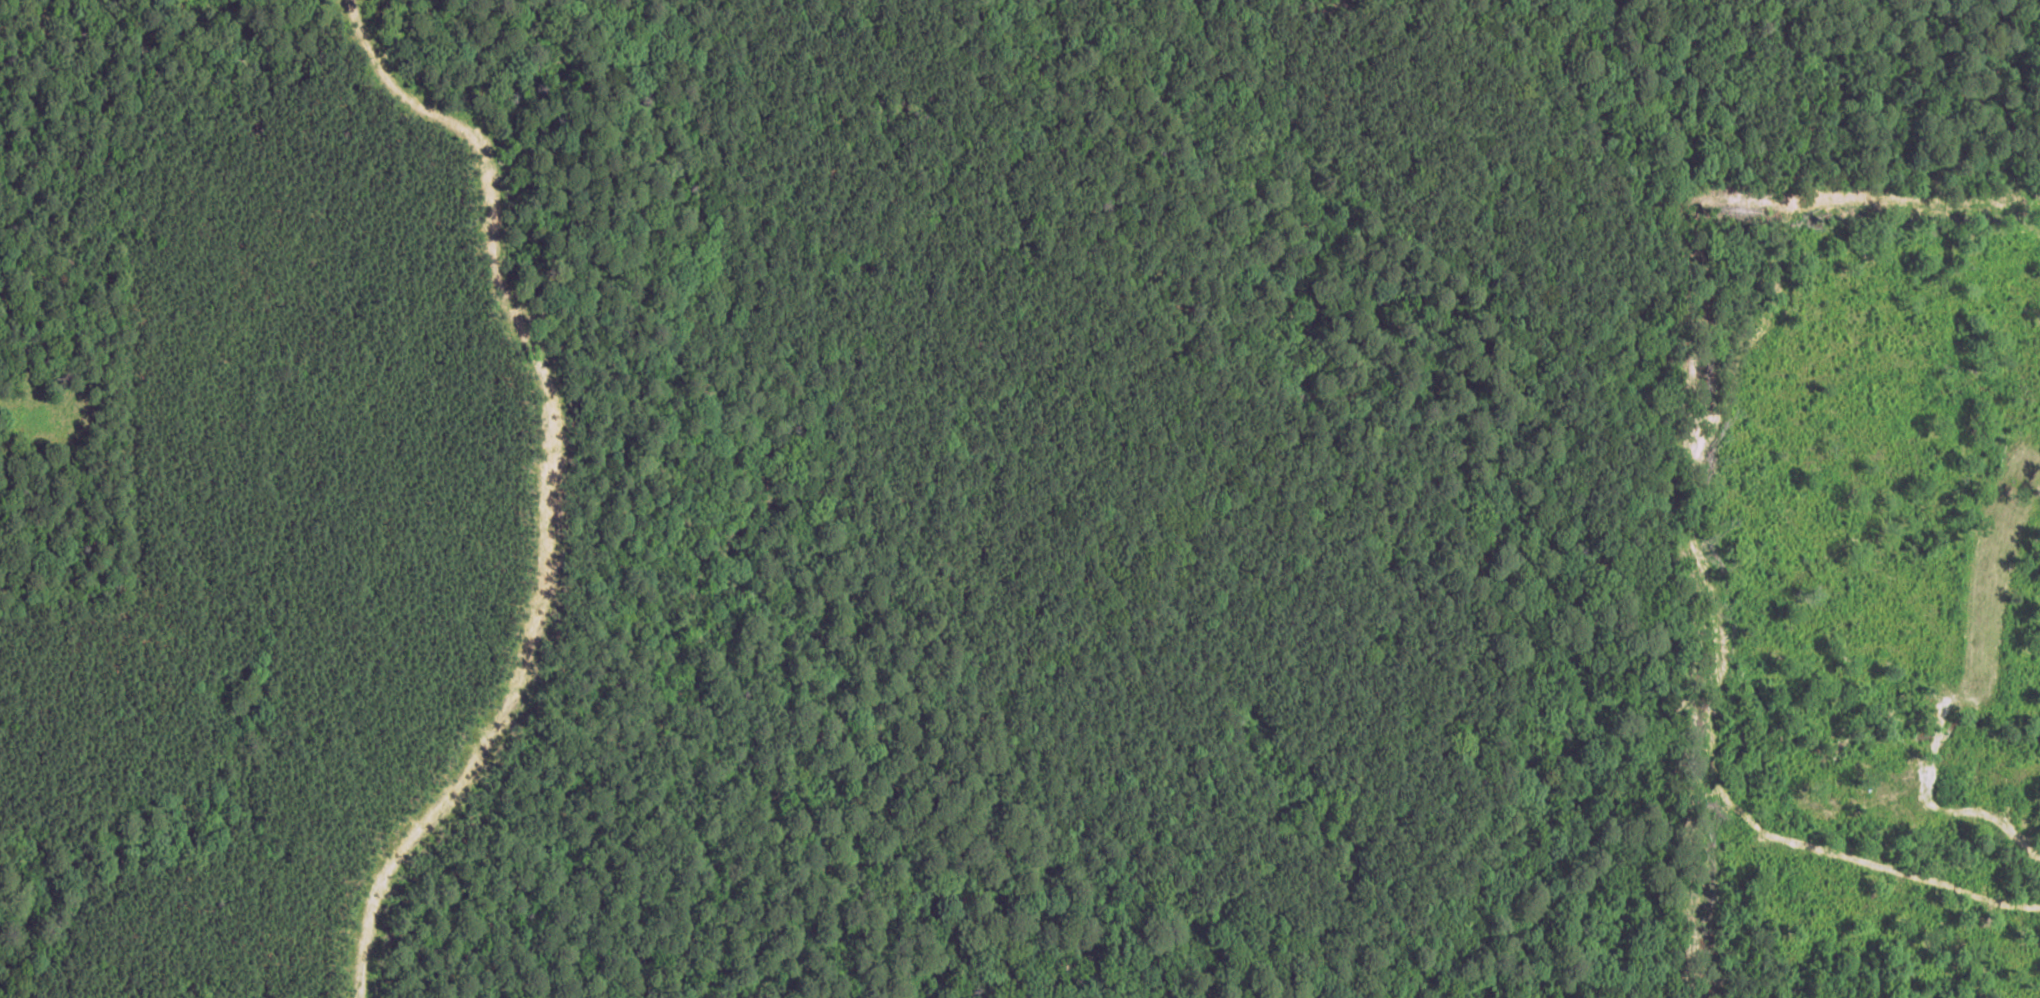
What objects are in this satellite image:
road: (1775, 539)

